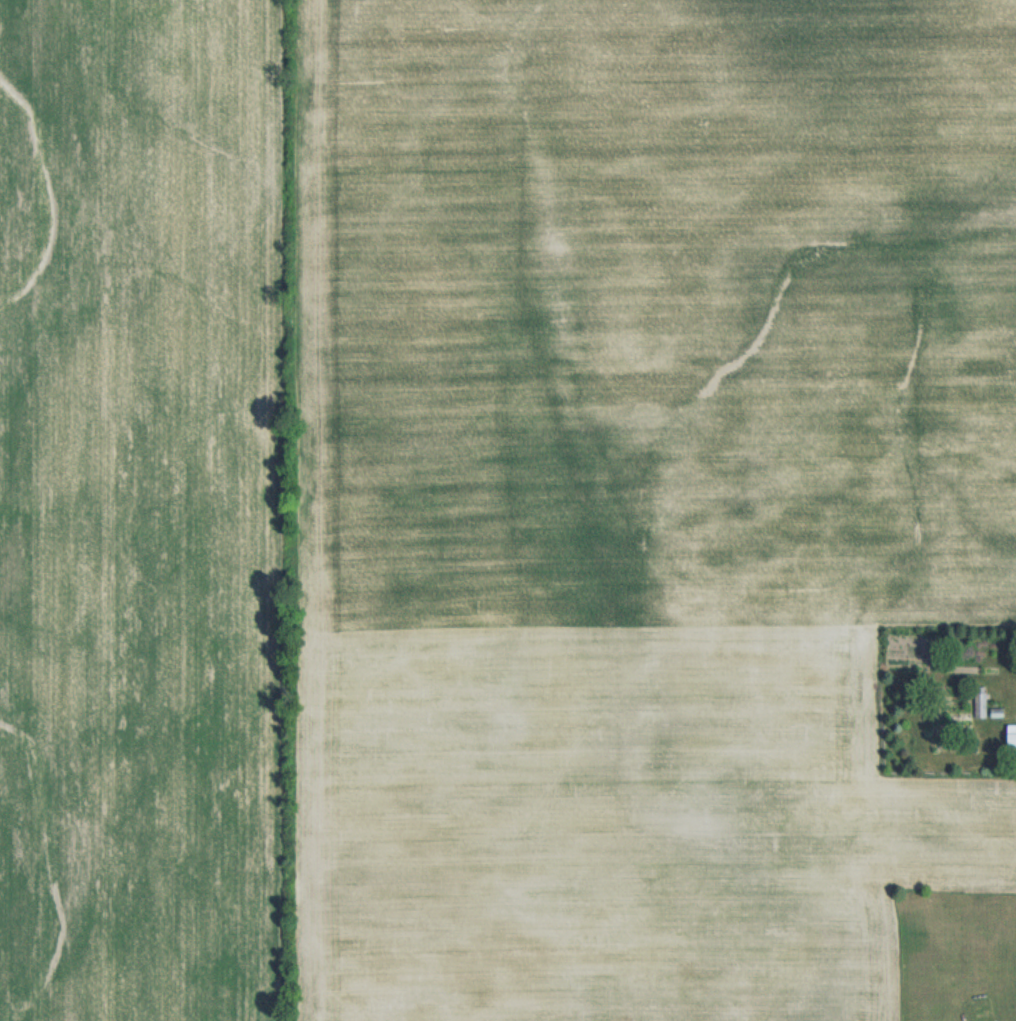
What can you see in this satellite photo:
crop: (491, 499)
building: (982, 705)
building: (1012, 739)

